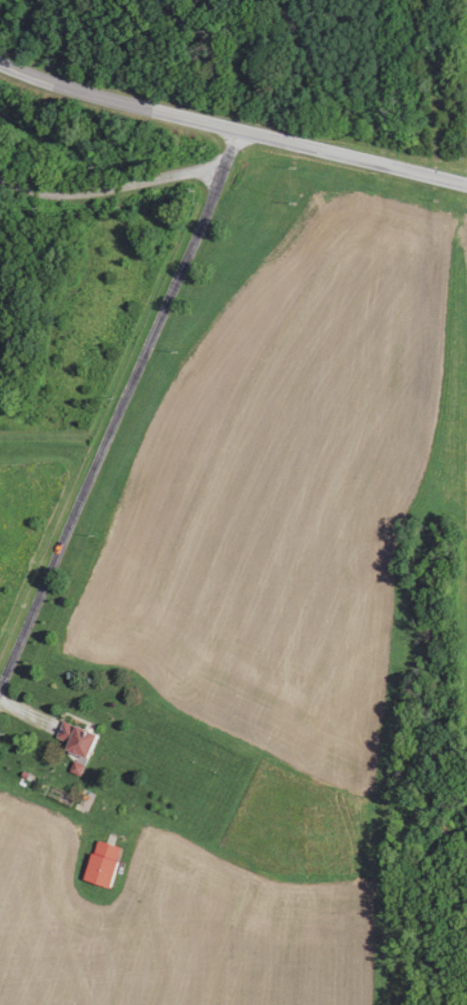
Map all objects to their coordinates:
road: (232, 127)
road: (113, 187)
road: (122, 410)
building: (76, 740)
building: (101, 864)

